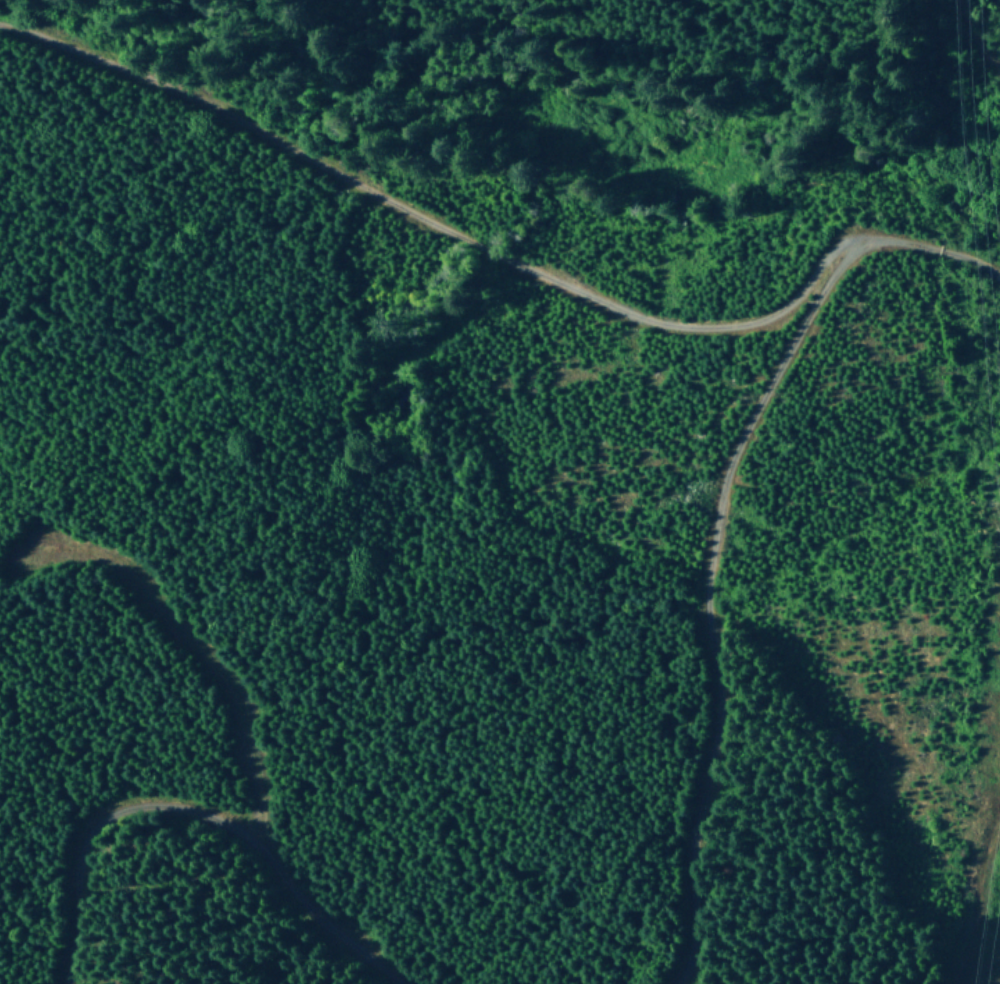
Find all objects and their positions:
road: (794, 281)

